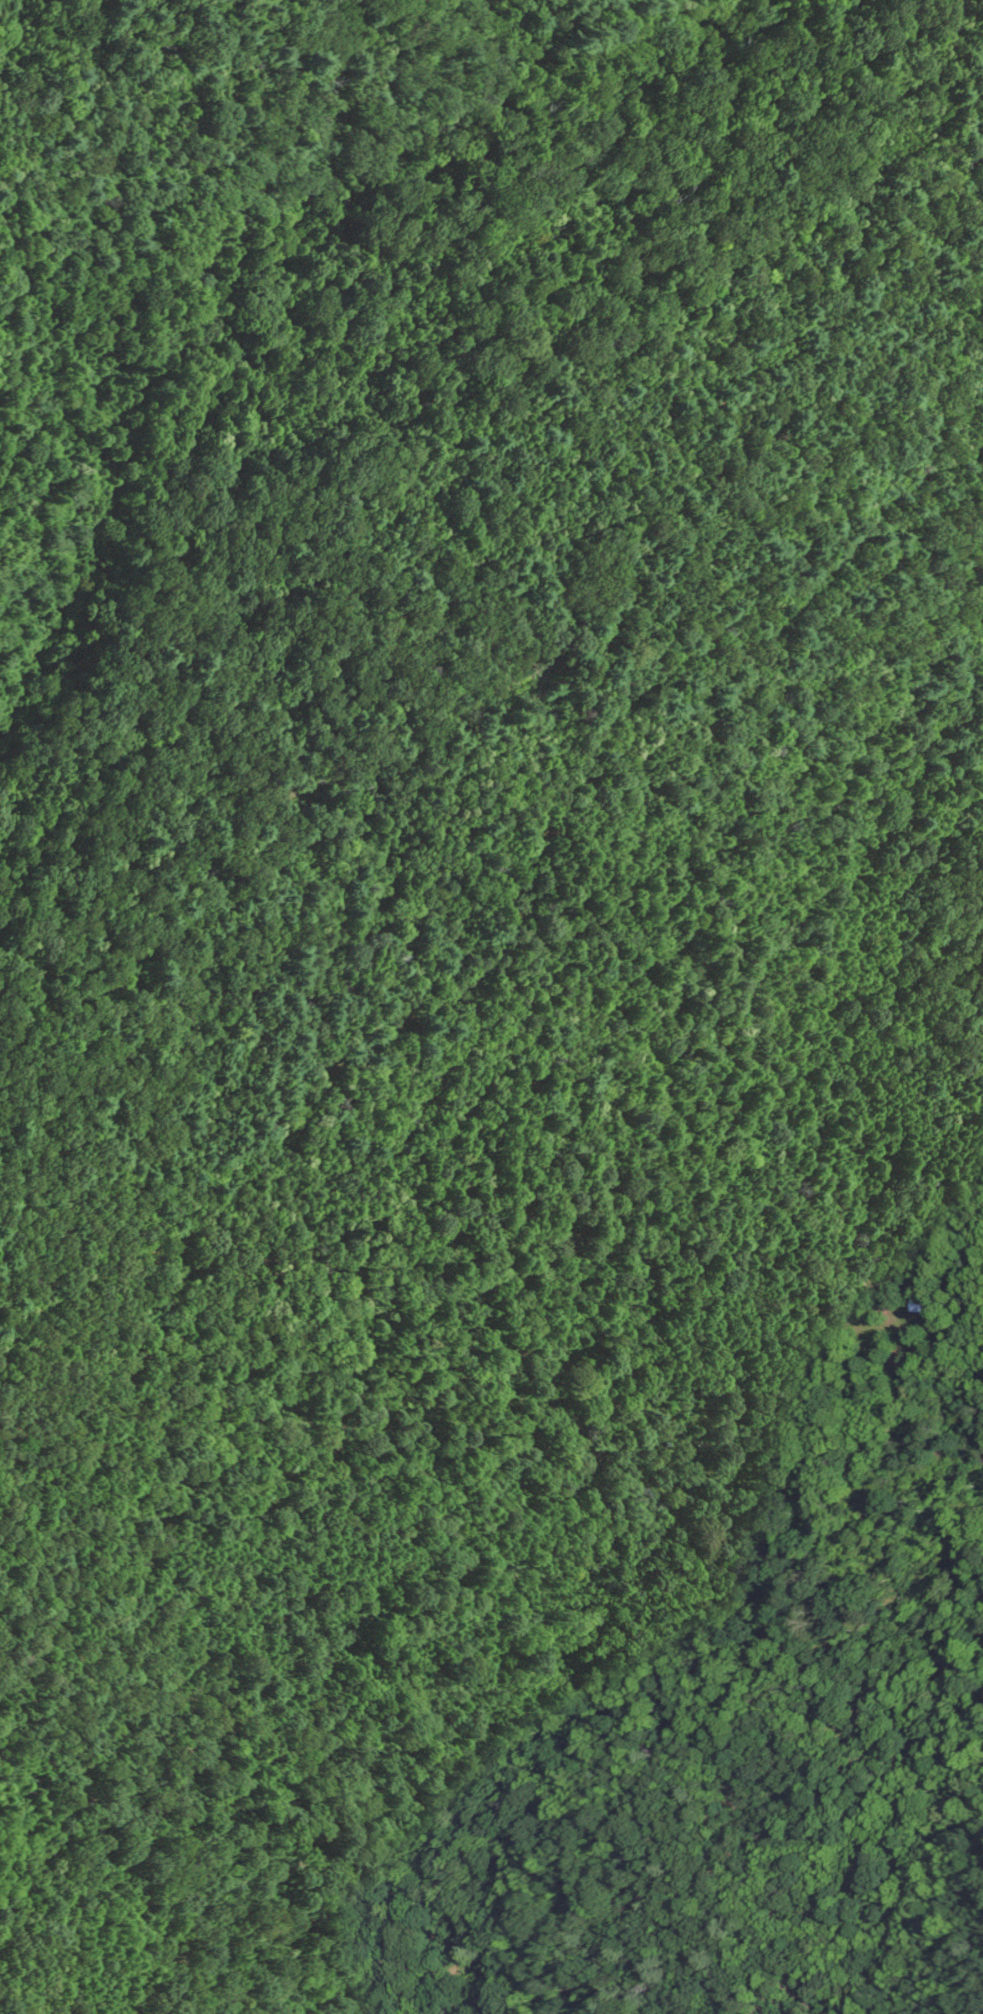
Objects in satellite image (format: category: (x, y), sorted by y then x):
building: (917, 1303)

